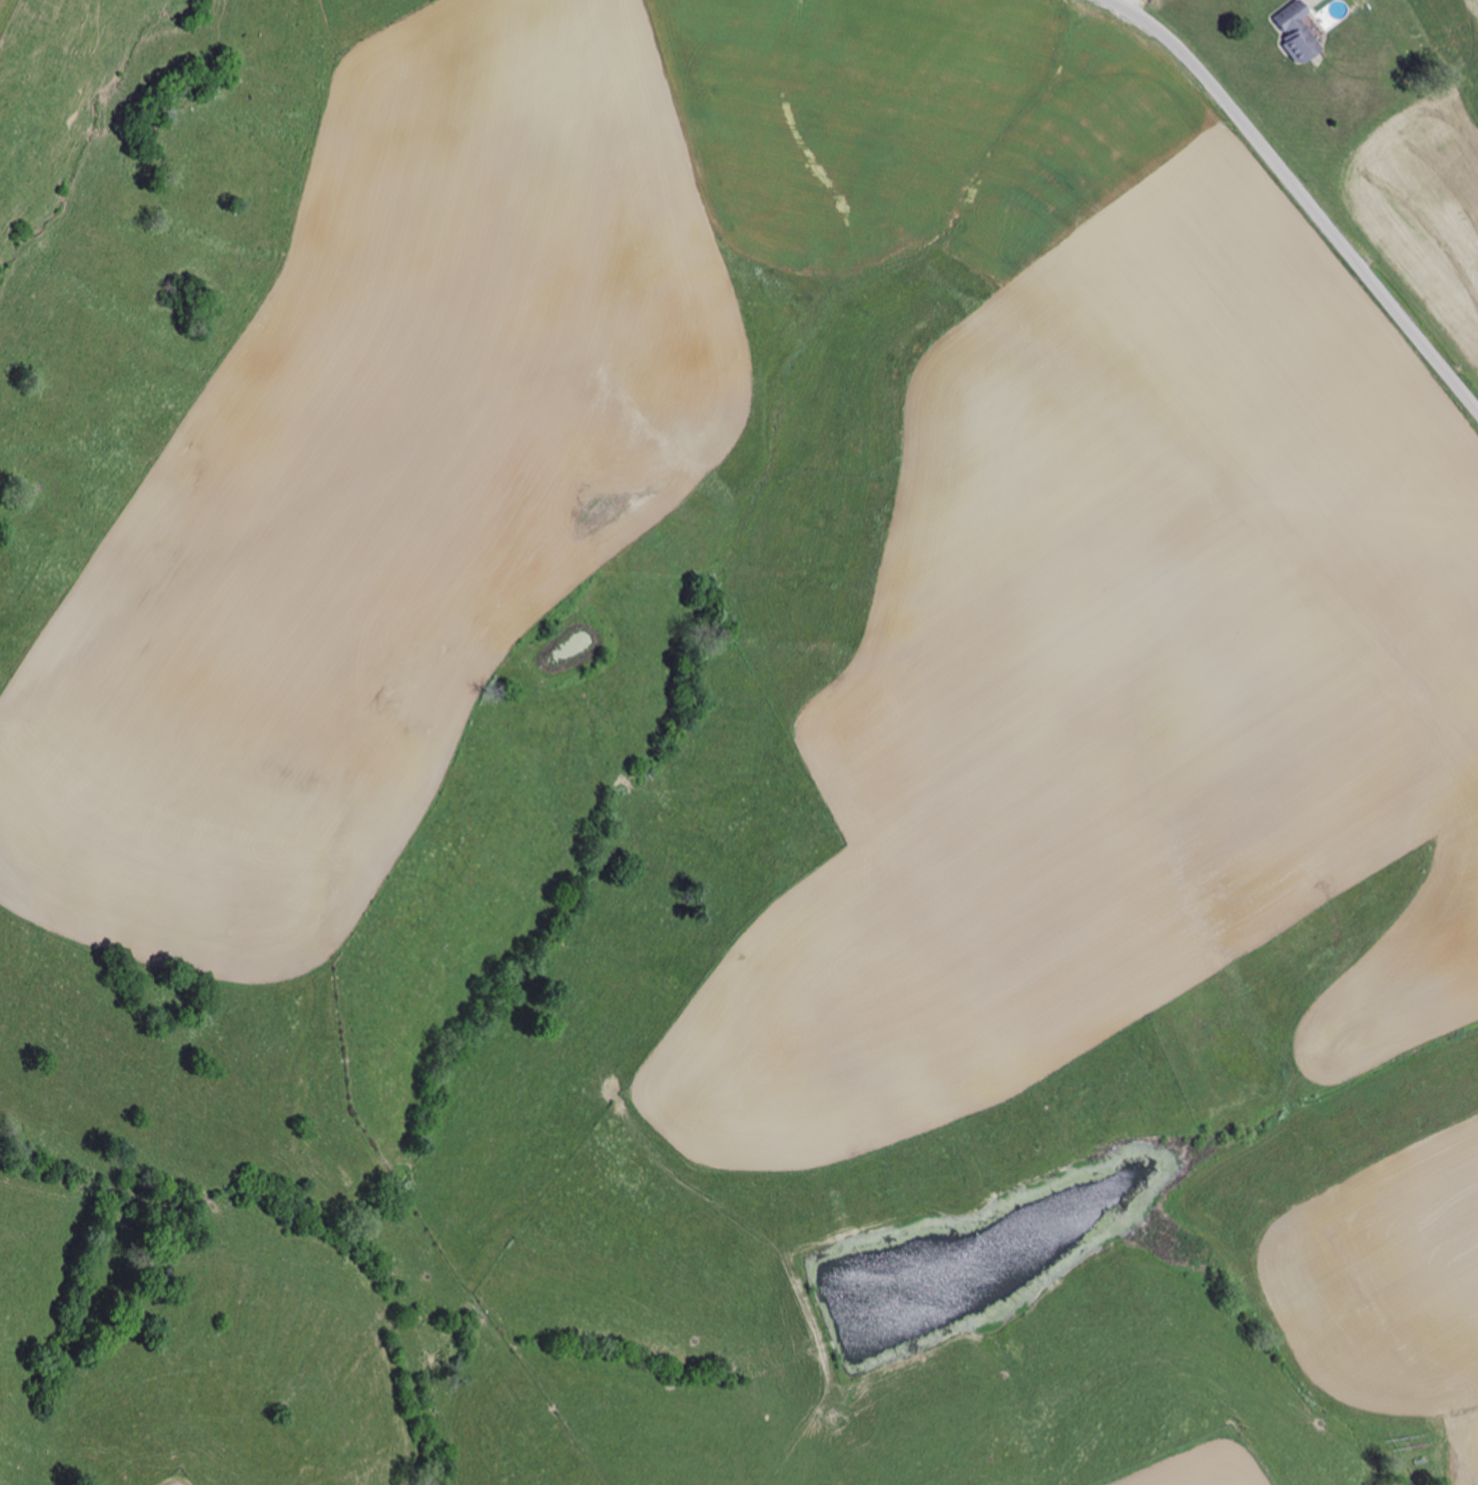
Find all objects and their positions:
road: (1134, 5)
building: (1298, 34)
road: (1302, 194)

